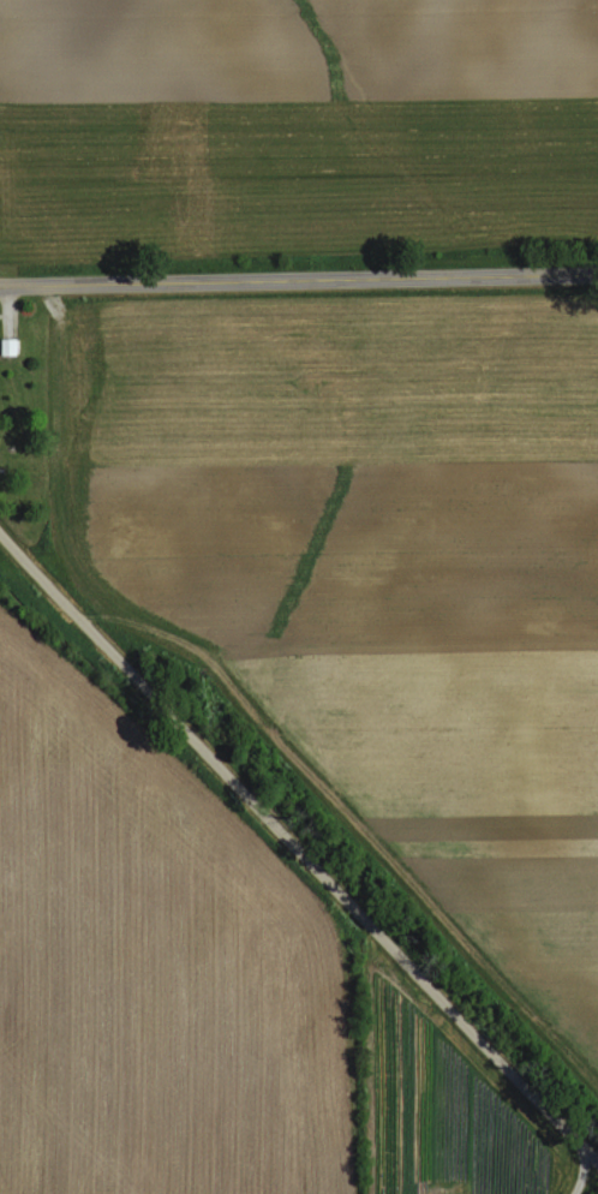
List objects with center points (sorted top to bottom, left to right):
road: (298, 280)
road: (297, 853)
road: (581, 1174)

